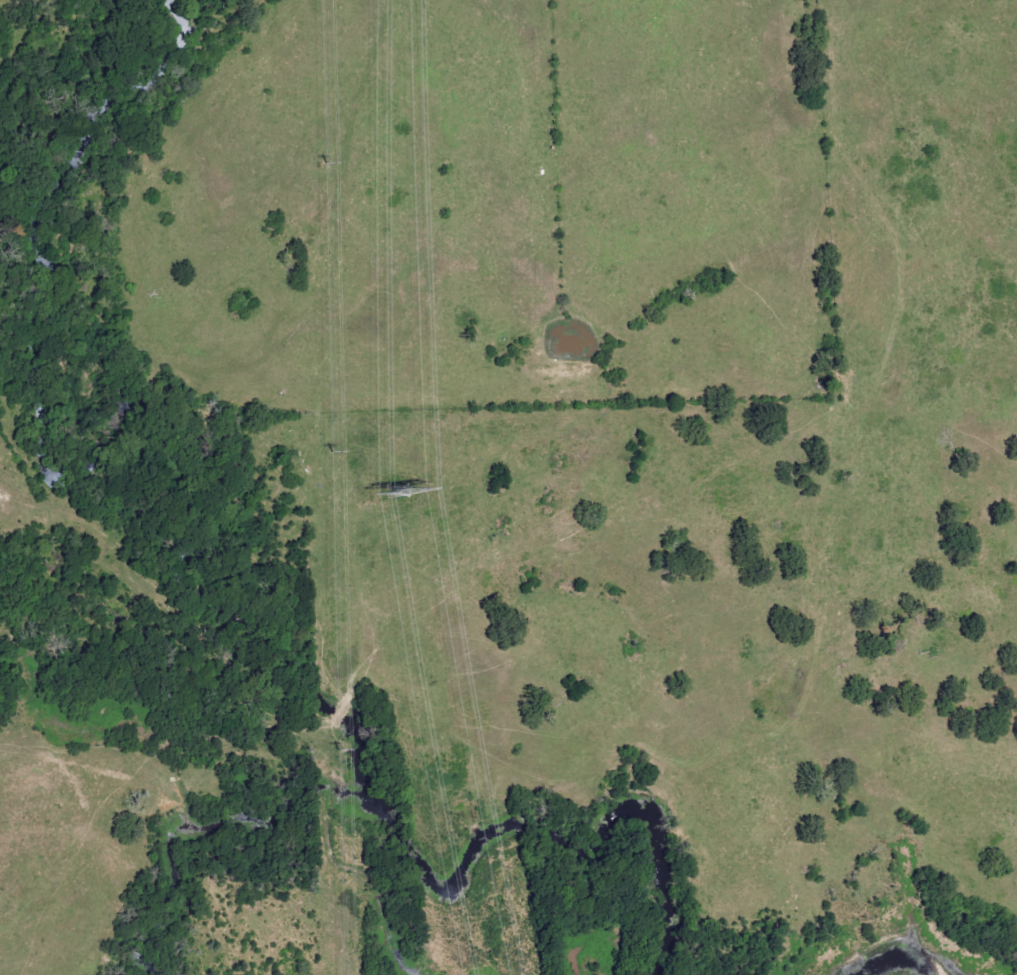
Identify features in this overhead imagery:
power tower: (322, 163)
power tower: (329, 452)
power tower: (398, 491)
power tower: (333, 750)

